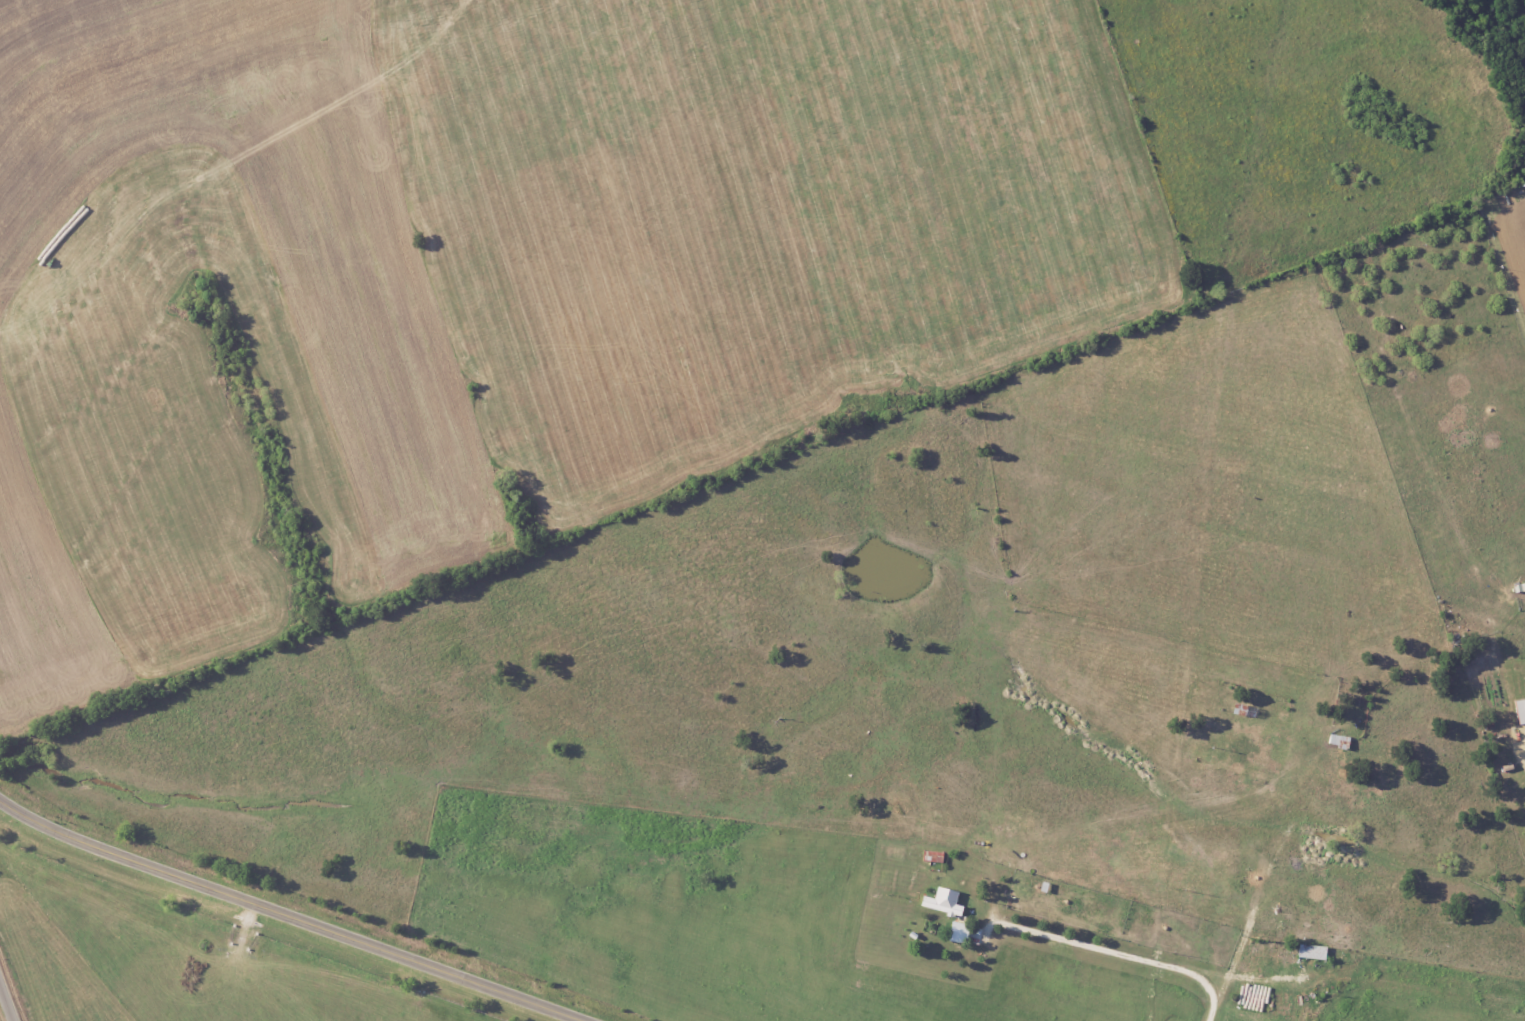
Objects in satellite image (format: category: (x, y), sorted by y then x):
building: (1519, 710)
building: (941, 902)
road: (279, 915)
road: (1116, 965)
road: (6, 1002)

